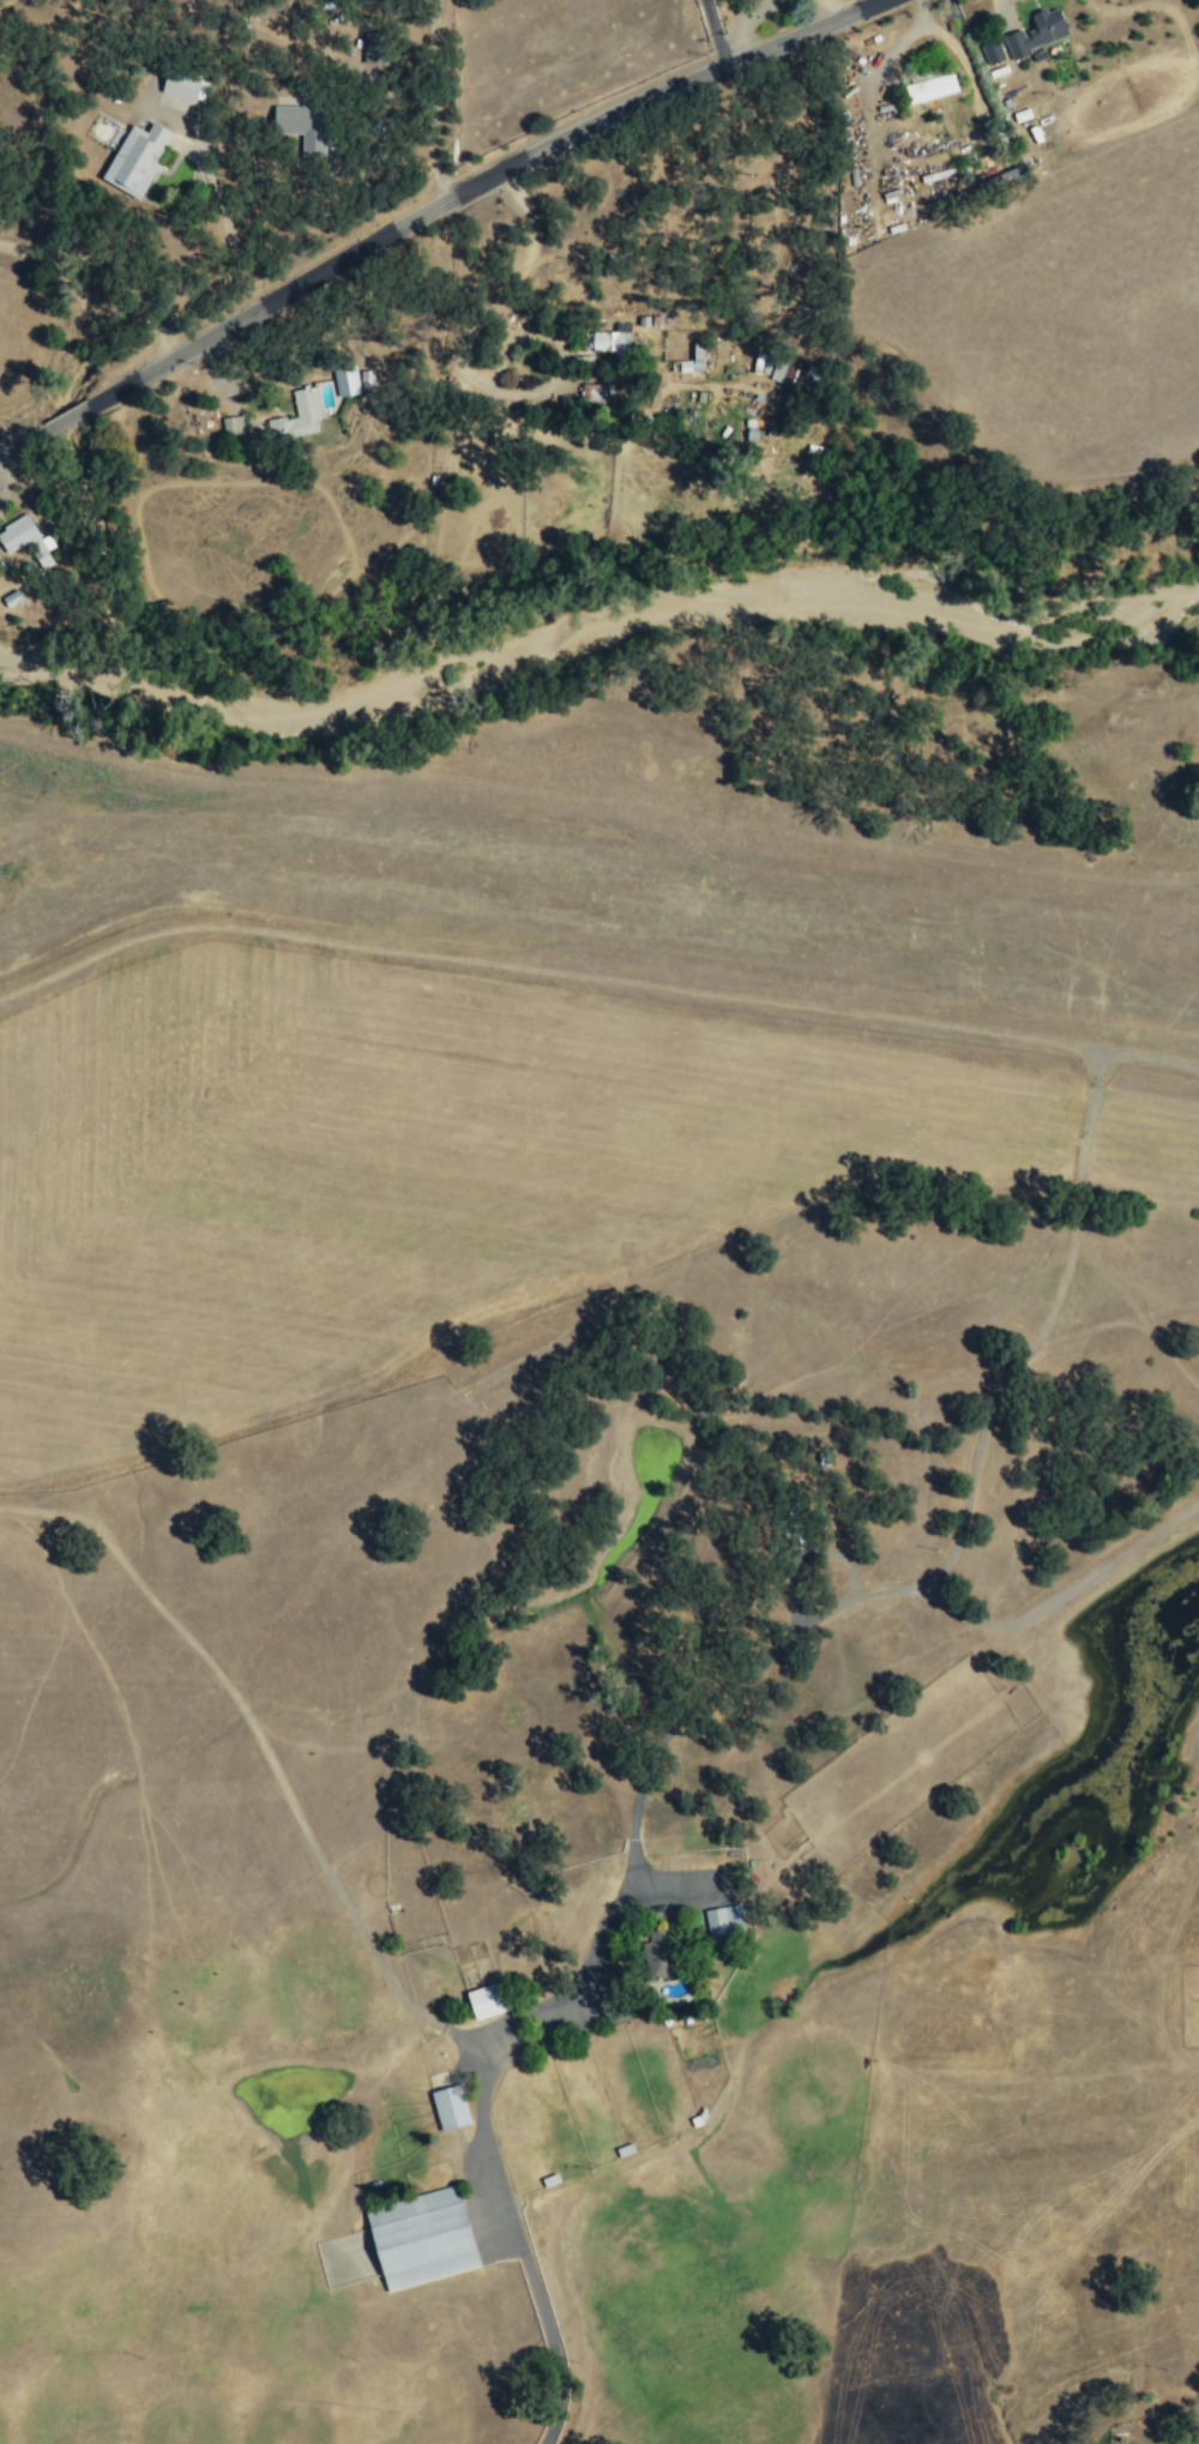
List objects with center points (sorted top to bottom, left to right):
building: (1036, 34)
building: (374, 49)
building: (992, 53)
building: (185, 86)
building: (929, 89)
road: (426, 102)
building: (302, 127)
building: (135, 159)
building: (1000, 179)
road: (475, 183)
building: (692, 361)
building: (791, 374)
building: (364, 378)
building: (344, 381)
road: (68, 416)
building: (296, 419)
building: (230, 426)
road: (23, 443)
building: (17, 534)
river: (646, 610)
river: (56, 664)
road: (255, 1733)
building: (723, 1920)
building: (658, 1955)
building: (486, 2001)
road: (463, 2035)
road: (481, 2093)
building: (448, 2108)
building: (421, 2239)

